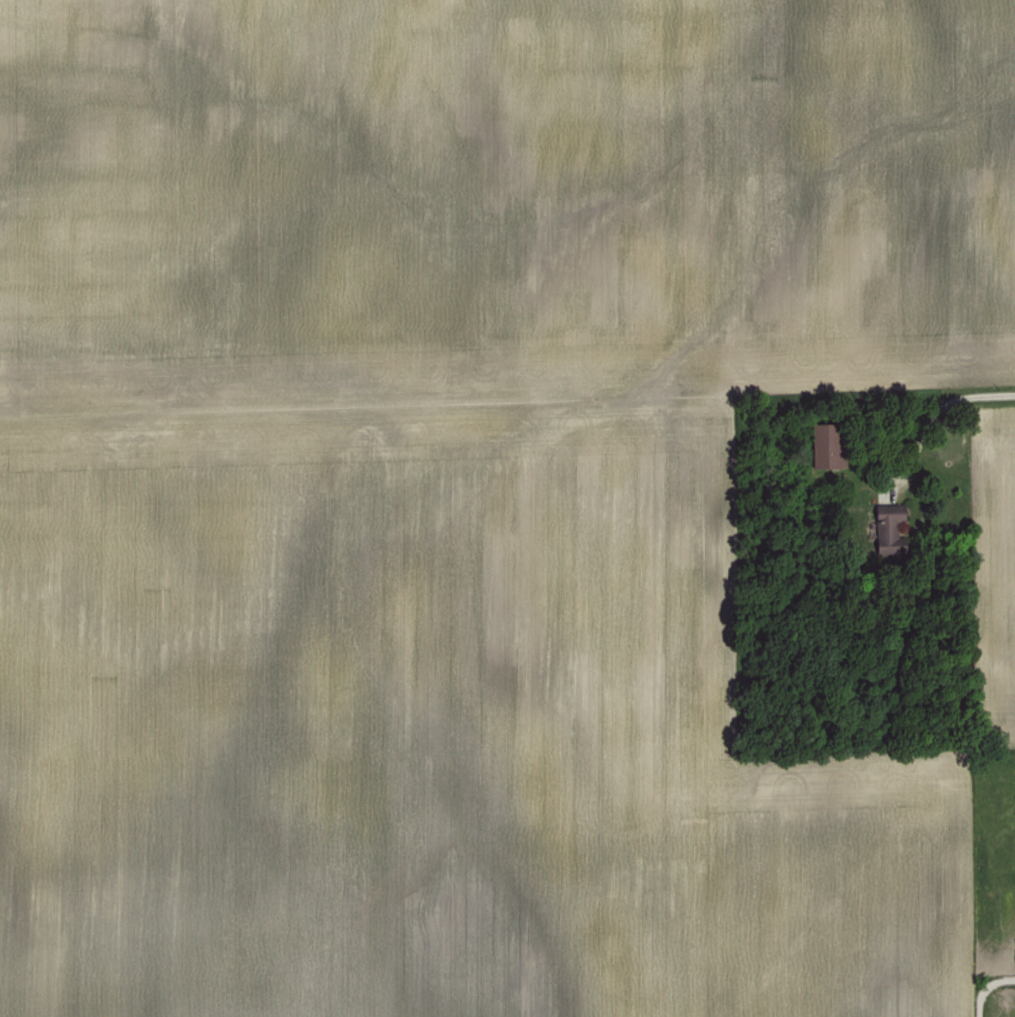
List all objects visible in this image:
road: (932, 414)
building: (823, 443)
building: (886, 510)
road: (986, 988)
building: (1014, 999)

